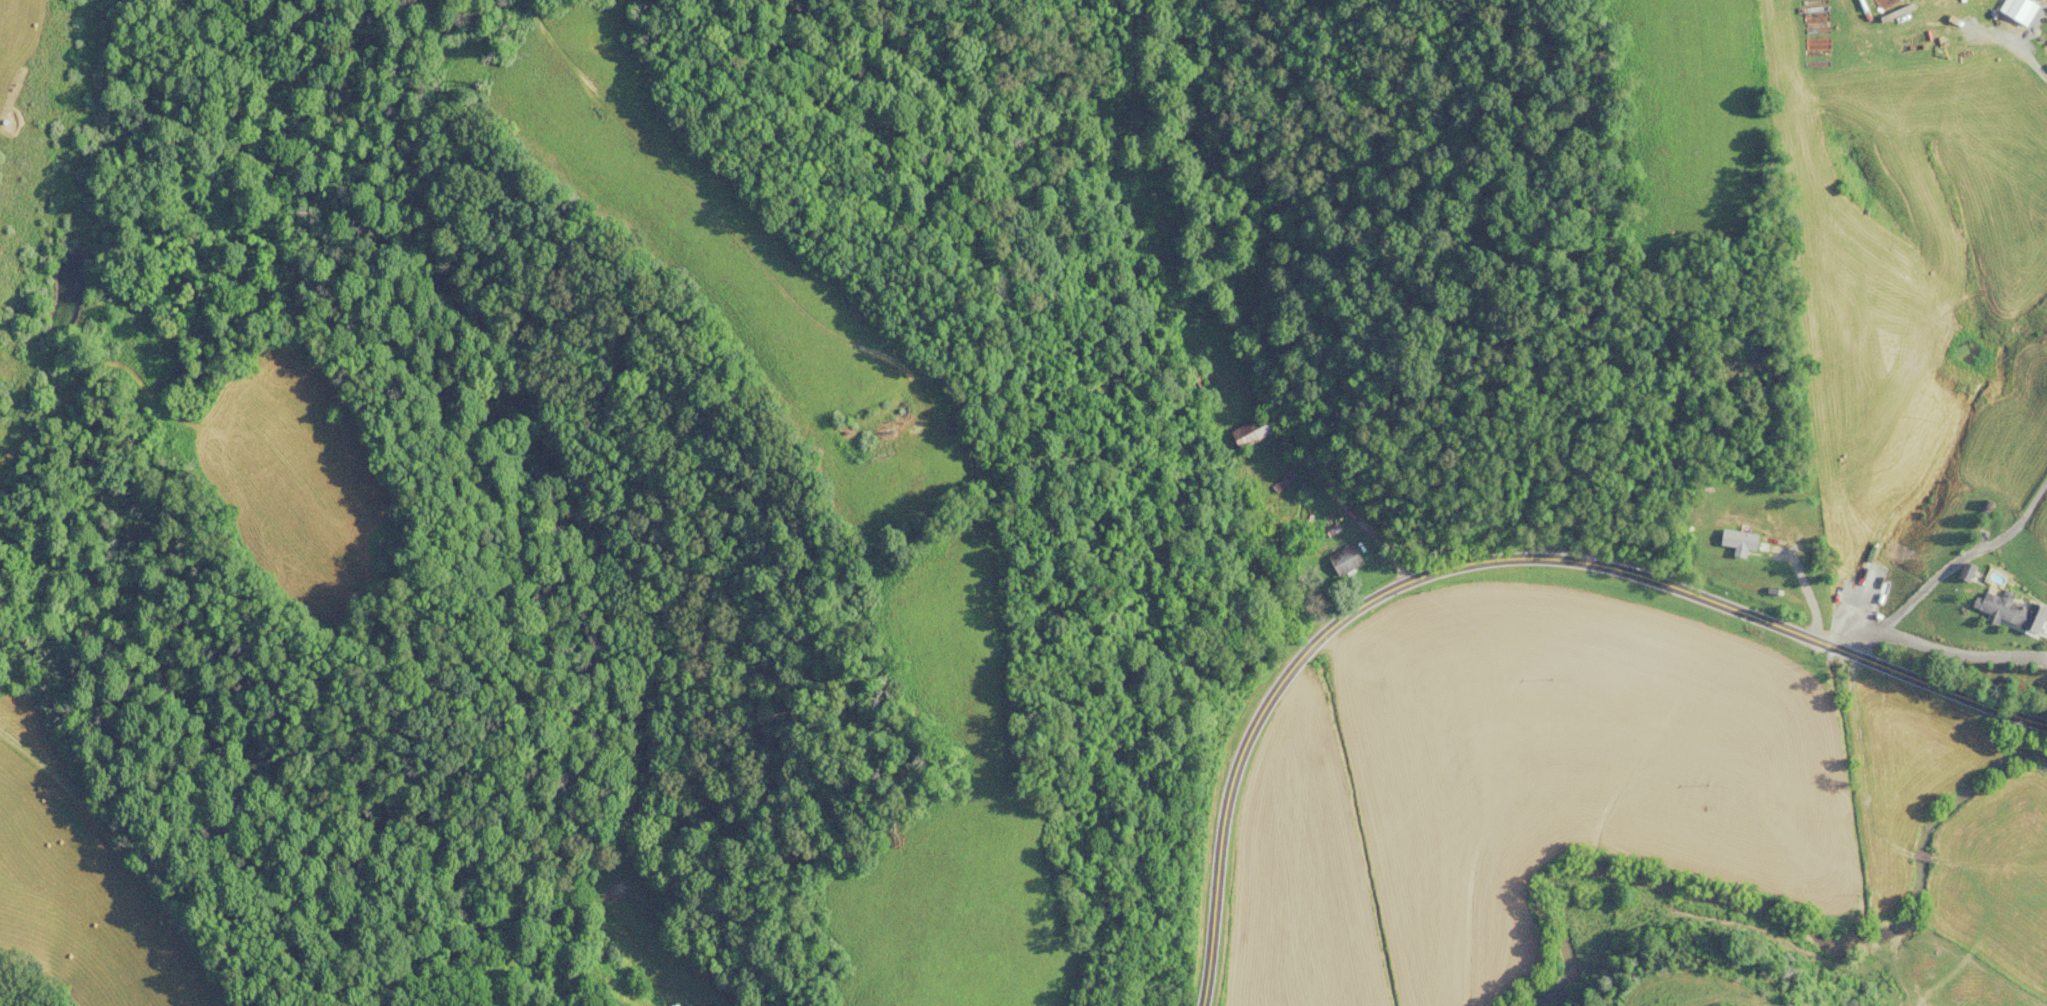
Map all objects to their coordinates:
building: (2014, 10)
building: (1732, 539)
road: (1486, 557)
building: (2008, 610)
road: (124, 858)

